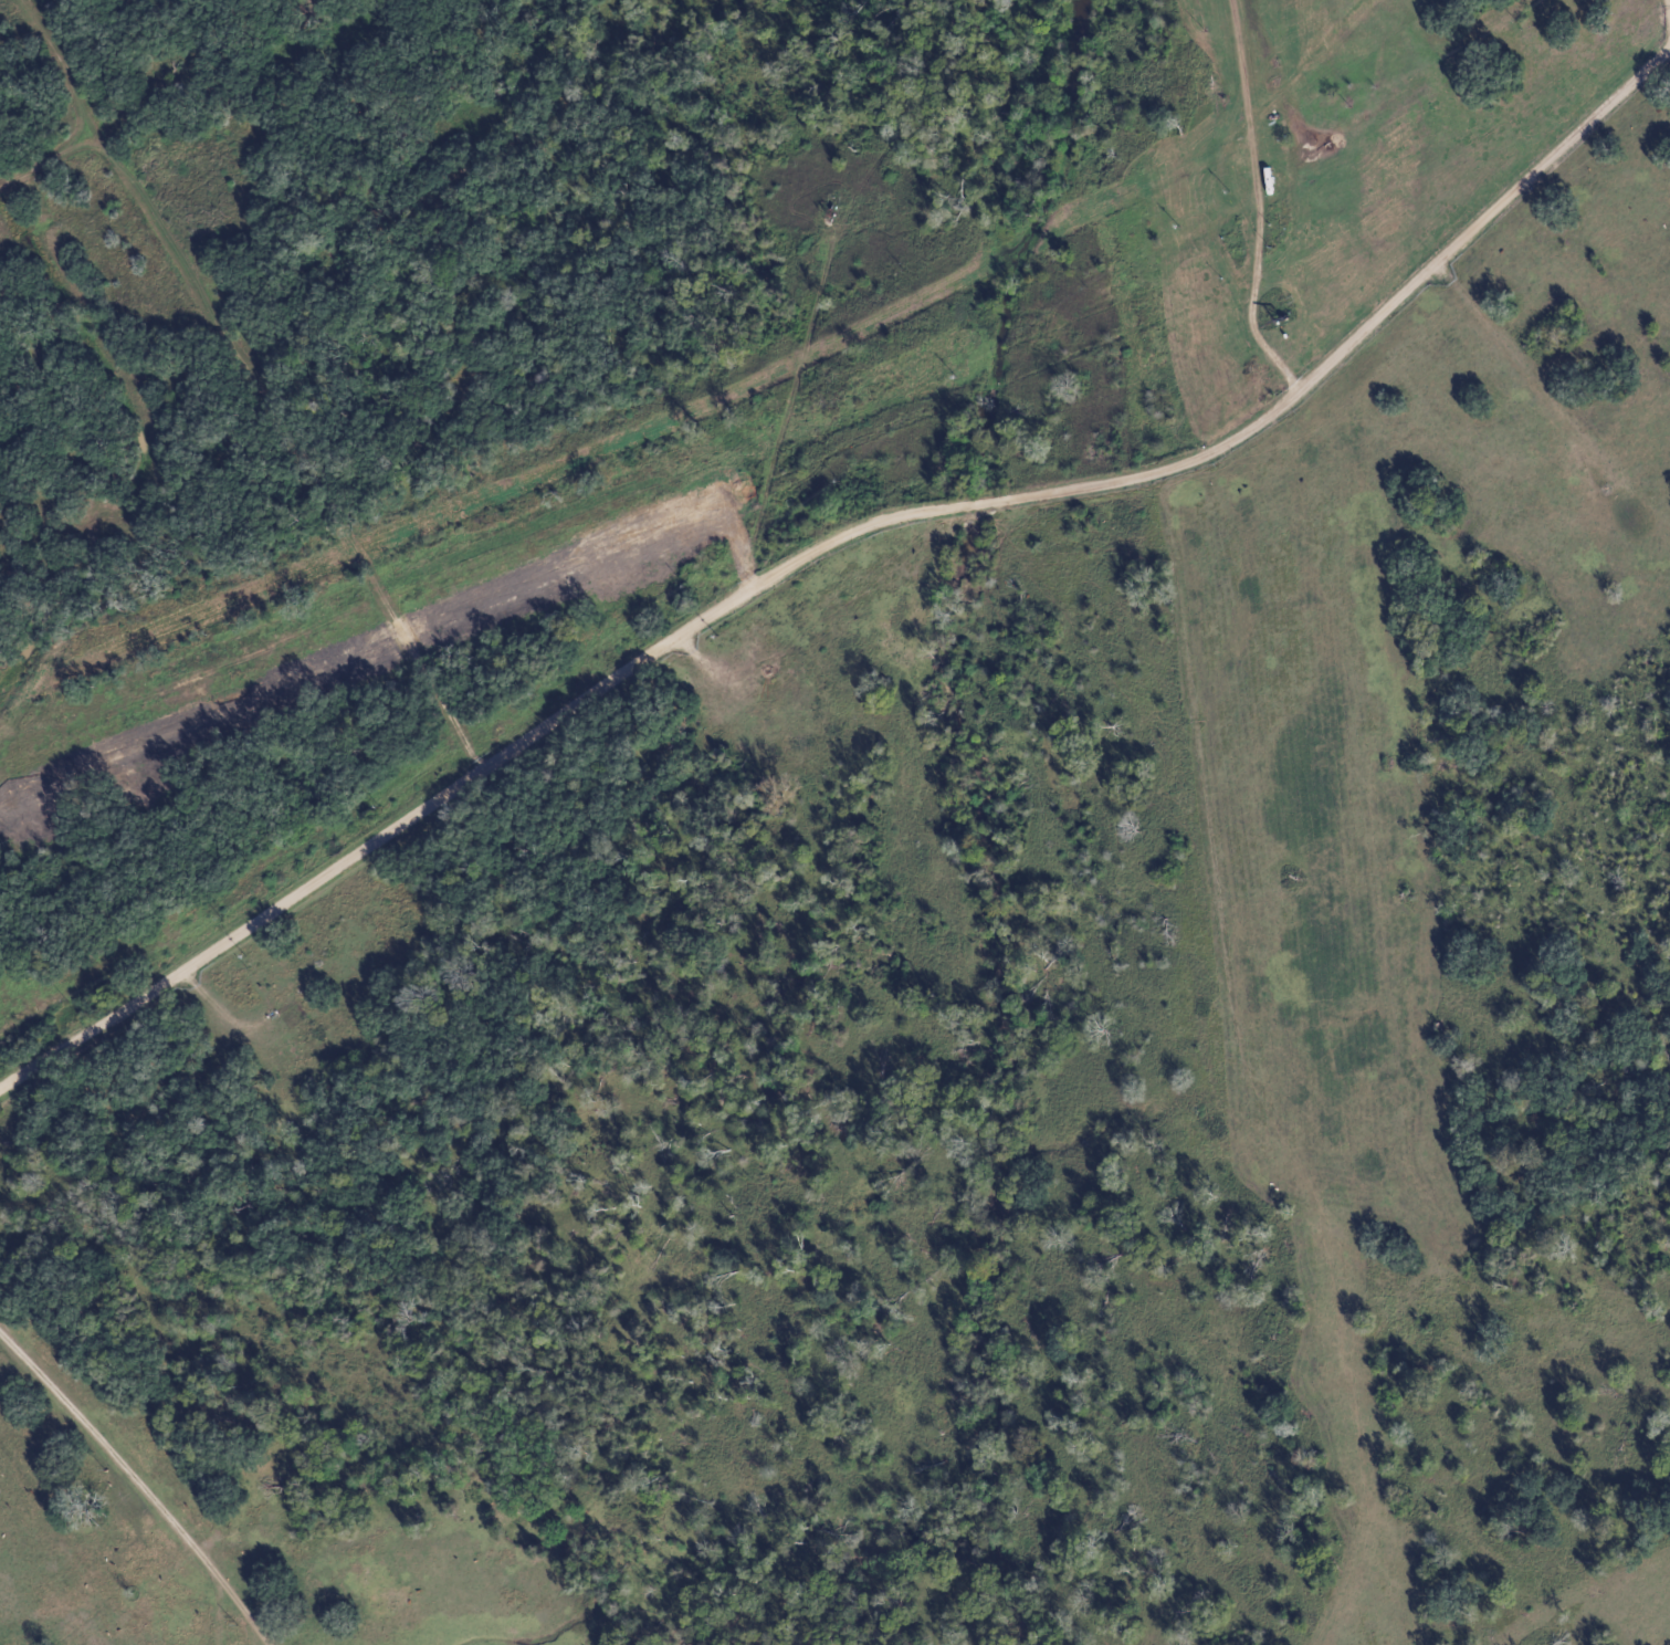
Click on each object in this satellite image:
road: (52, 161)
road: (1524, 360)
road: (254, 383)
road: (790, 409)
road: (141, 442)
road: (833, 536)
road: (1209, 784)
road: (138, 1484)

